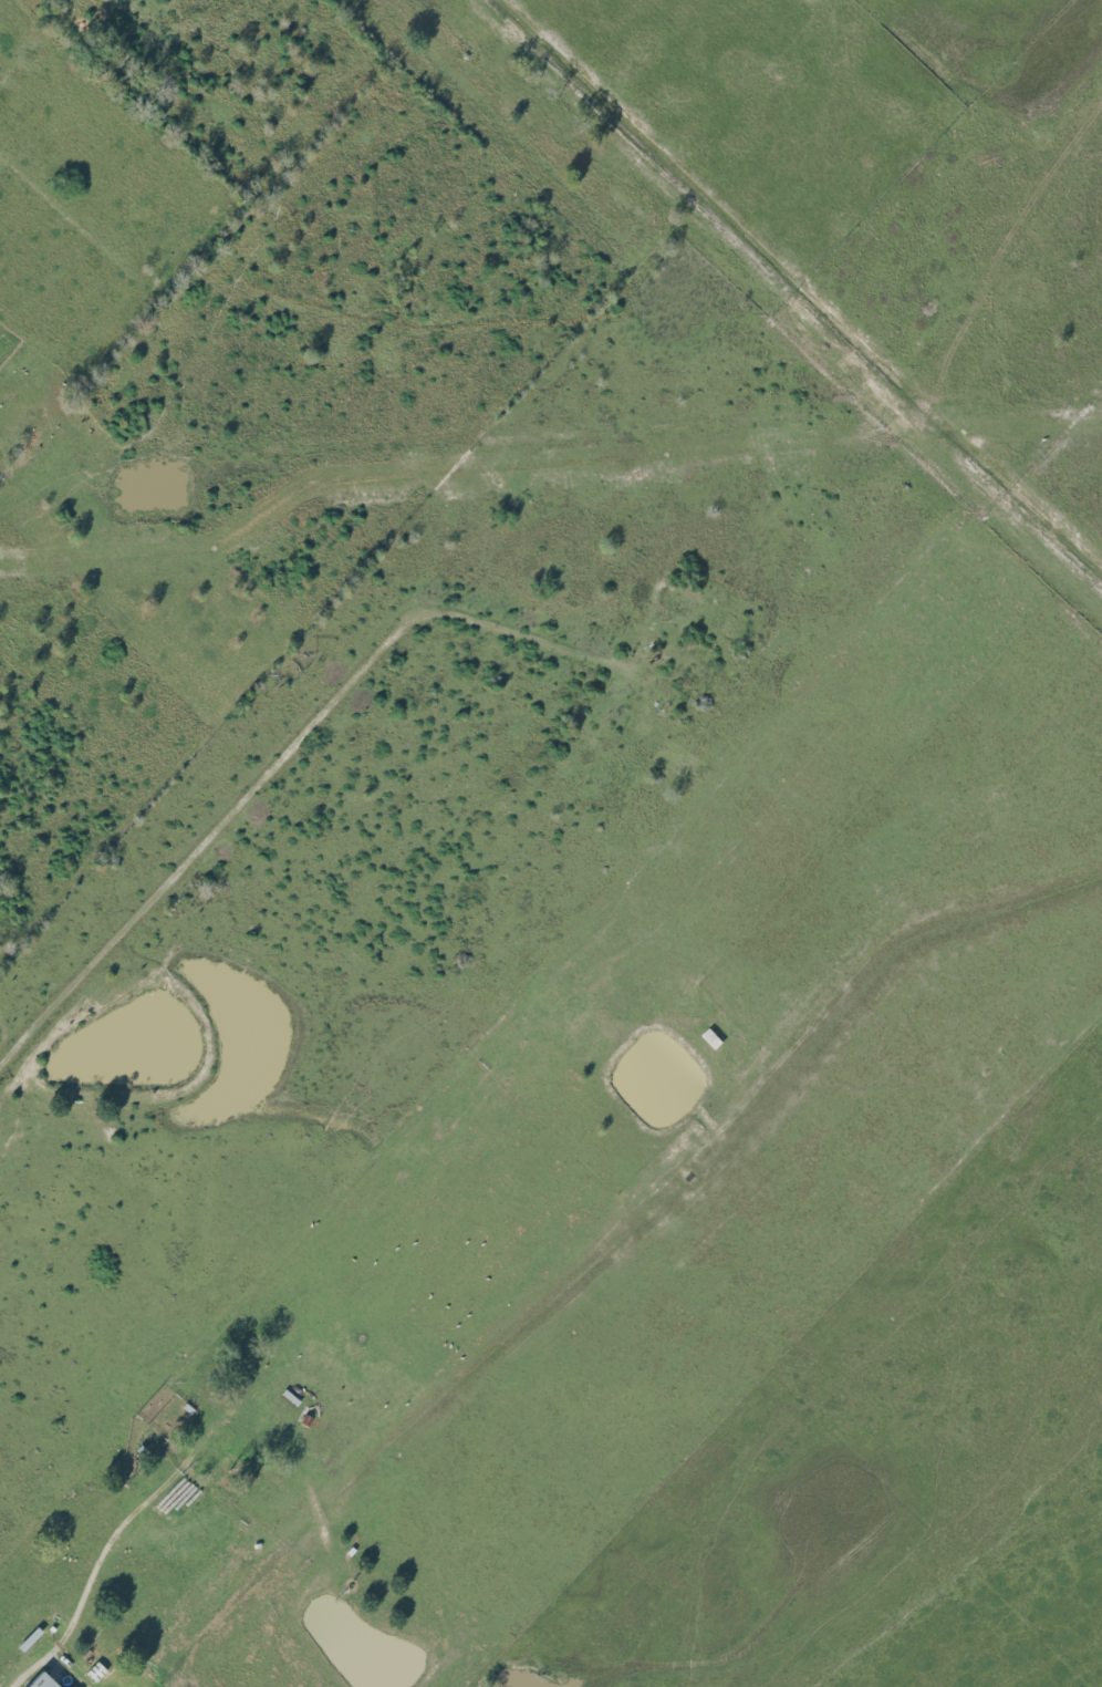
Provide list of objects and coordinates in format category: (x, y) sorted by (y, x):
road: (266, 782)
road: (90, 1585)
building: (43, 1681)

